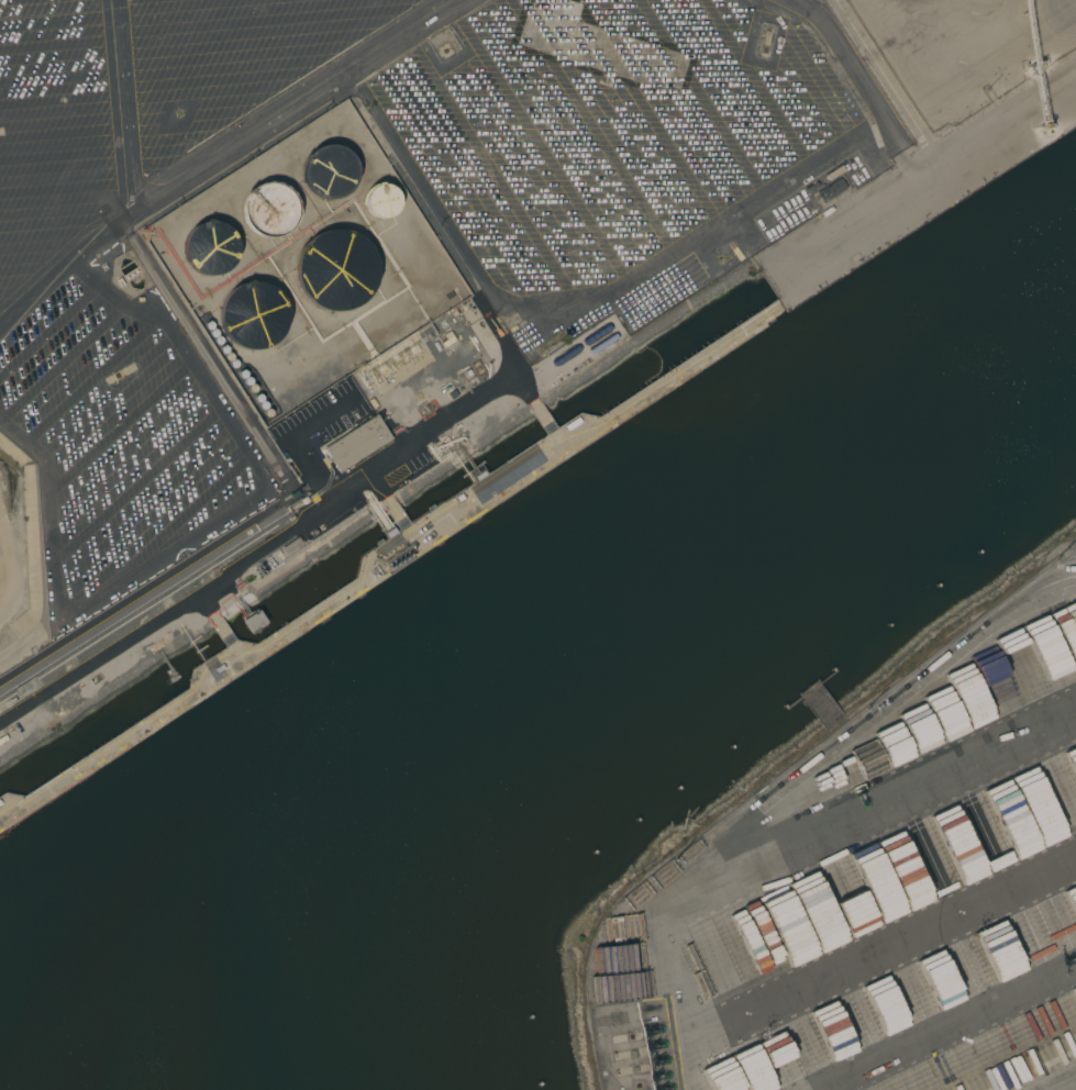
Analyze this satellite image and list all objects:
building: (600, 48)
road: (863, 88)
road: (201, 167)
road: (940, 168)
building: (329, 171)
road: (880, 171)
building: (831, 190)
building: (381, 200)
building: (268, 209)
building: (210, 248)
road: (759, 249)
road: (59, 269)
building: (335, 270)
road: (580, 297)
building: (252, 315)
building: (357, 443)
road: (285, 501)
road: (199, 531)
building: (396, 559)
building: (253, 621)
road: (790, 853)
building: (933, 866)
road: (878, 945)
road: (950, 1028)
road: (1067, 1086)

